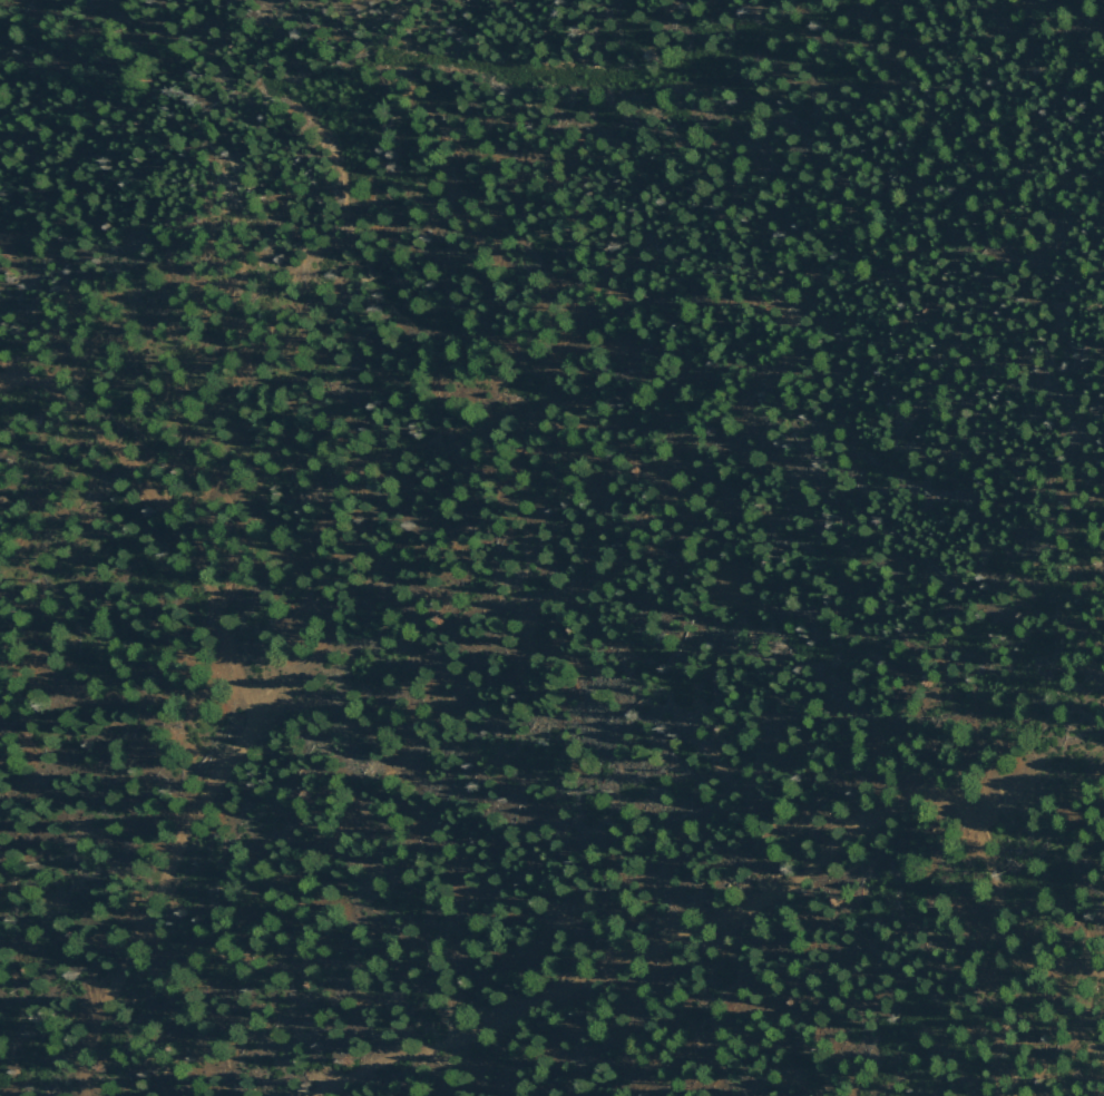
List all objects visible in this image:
road: (6, 0)
road: (245, 701)
road: (755, 903)
road: (1082, 1019)

